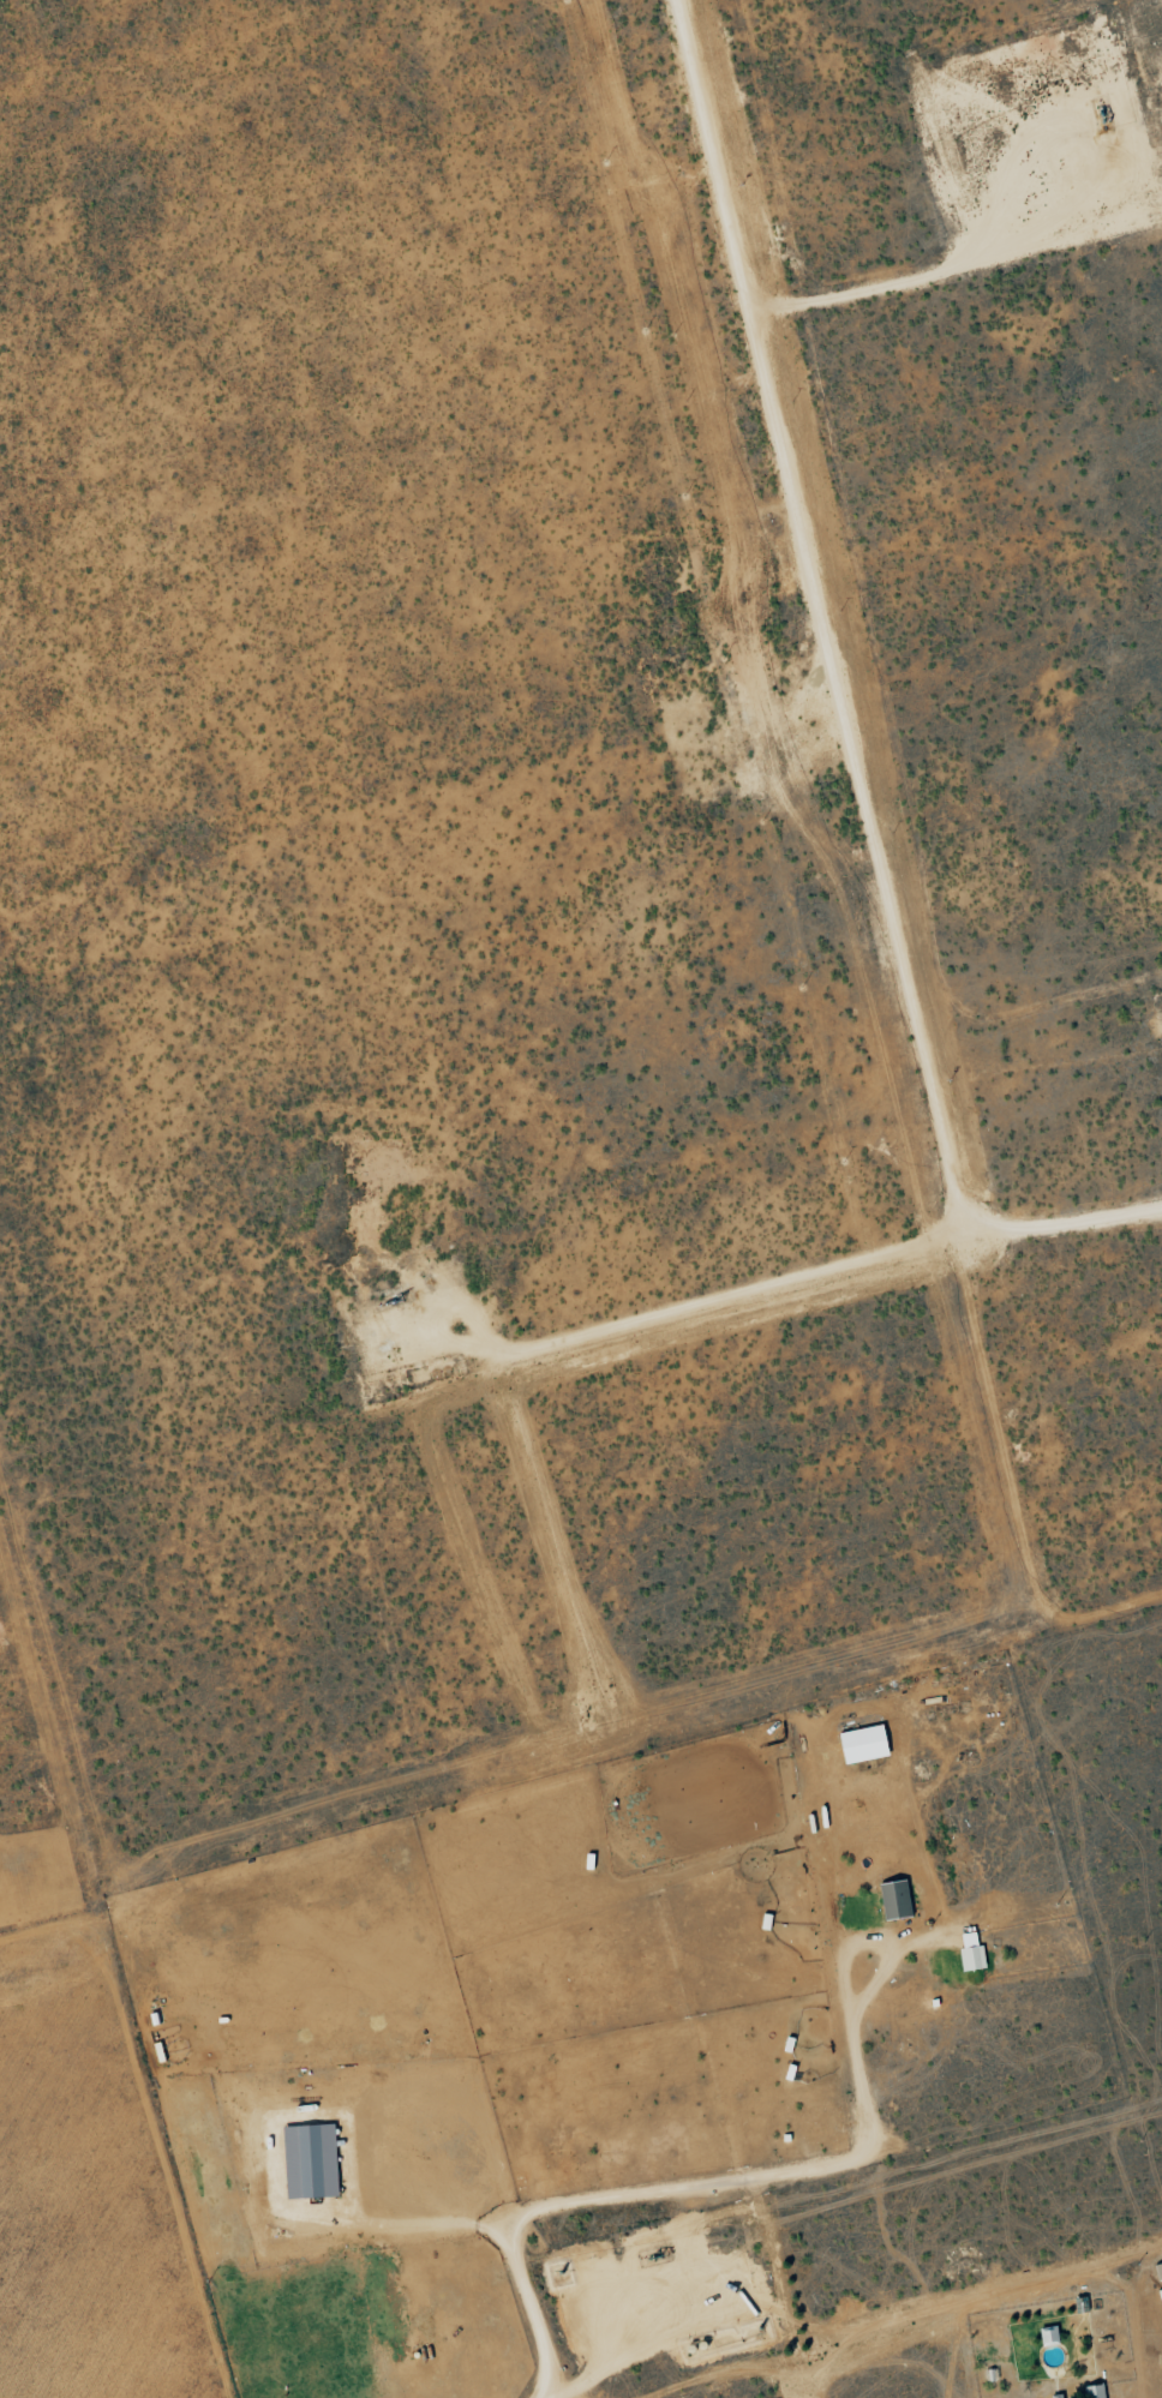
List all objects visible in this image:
building: (861, 1745)
building: (892, 1900)
road: (873, 1940)
building: (969, 1953)
building: (307, 2162)
road: (667, 2189)
building: (1094, 2391)

